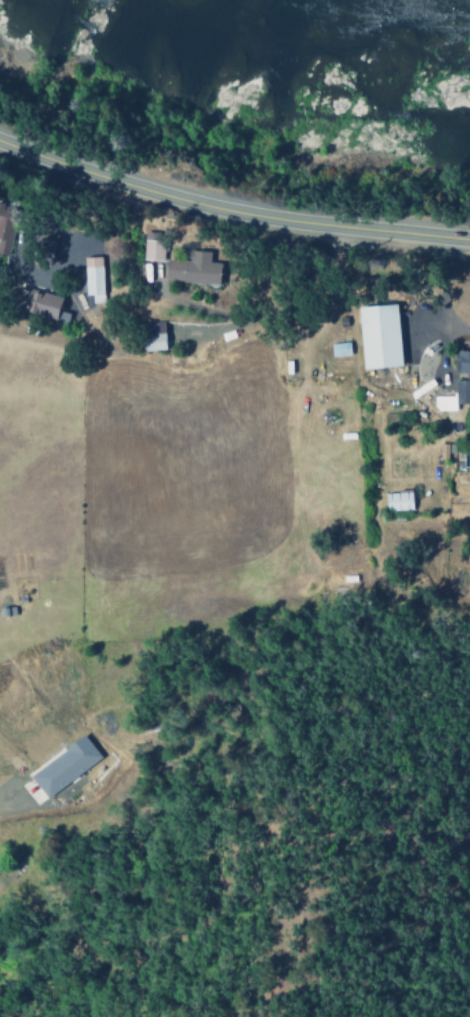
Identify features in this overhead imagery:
river: (312, 35)
road: (230, 206)
building: (151, 248)
building: (192, 270)
building: (91, 277)
building: (38, 305)
building: (378, 337)
building: (152, 342)
building: (339, 349)
building: (462, 363)
building: (454, 397)
building: (397, 500)
building: (63, 766)

